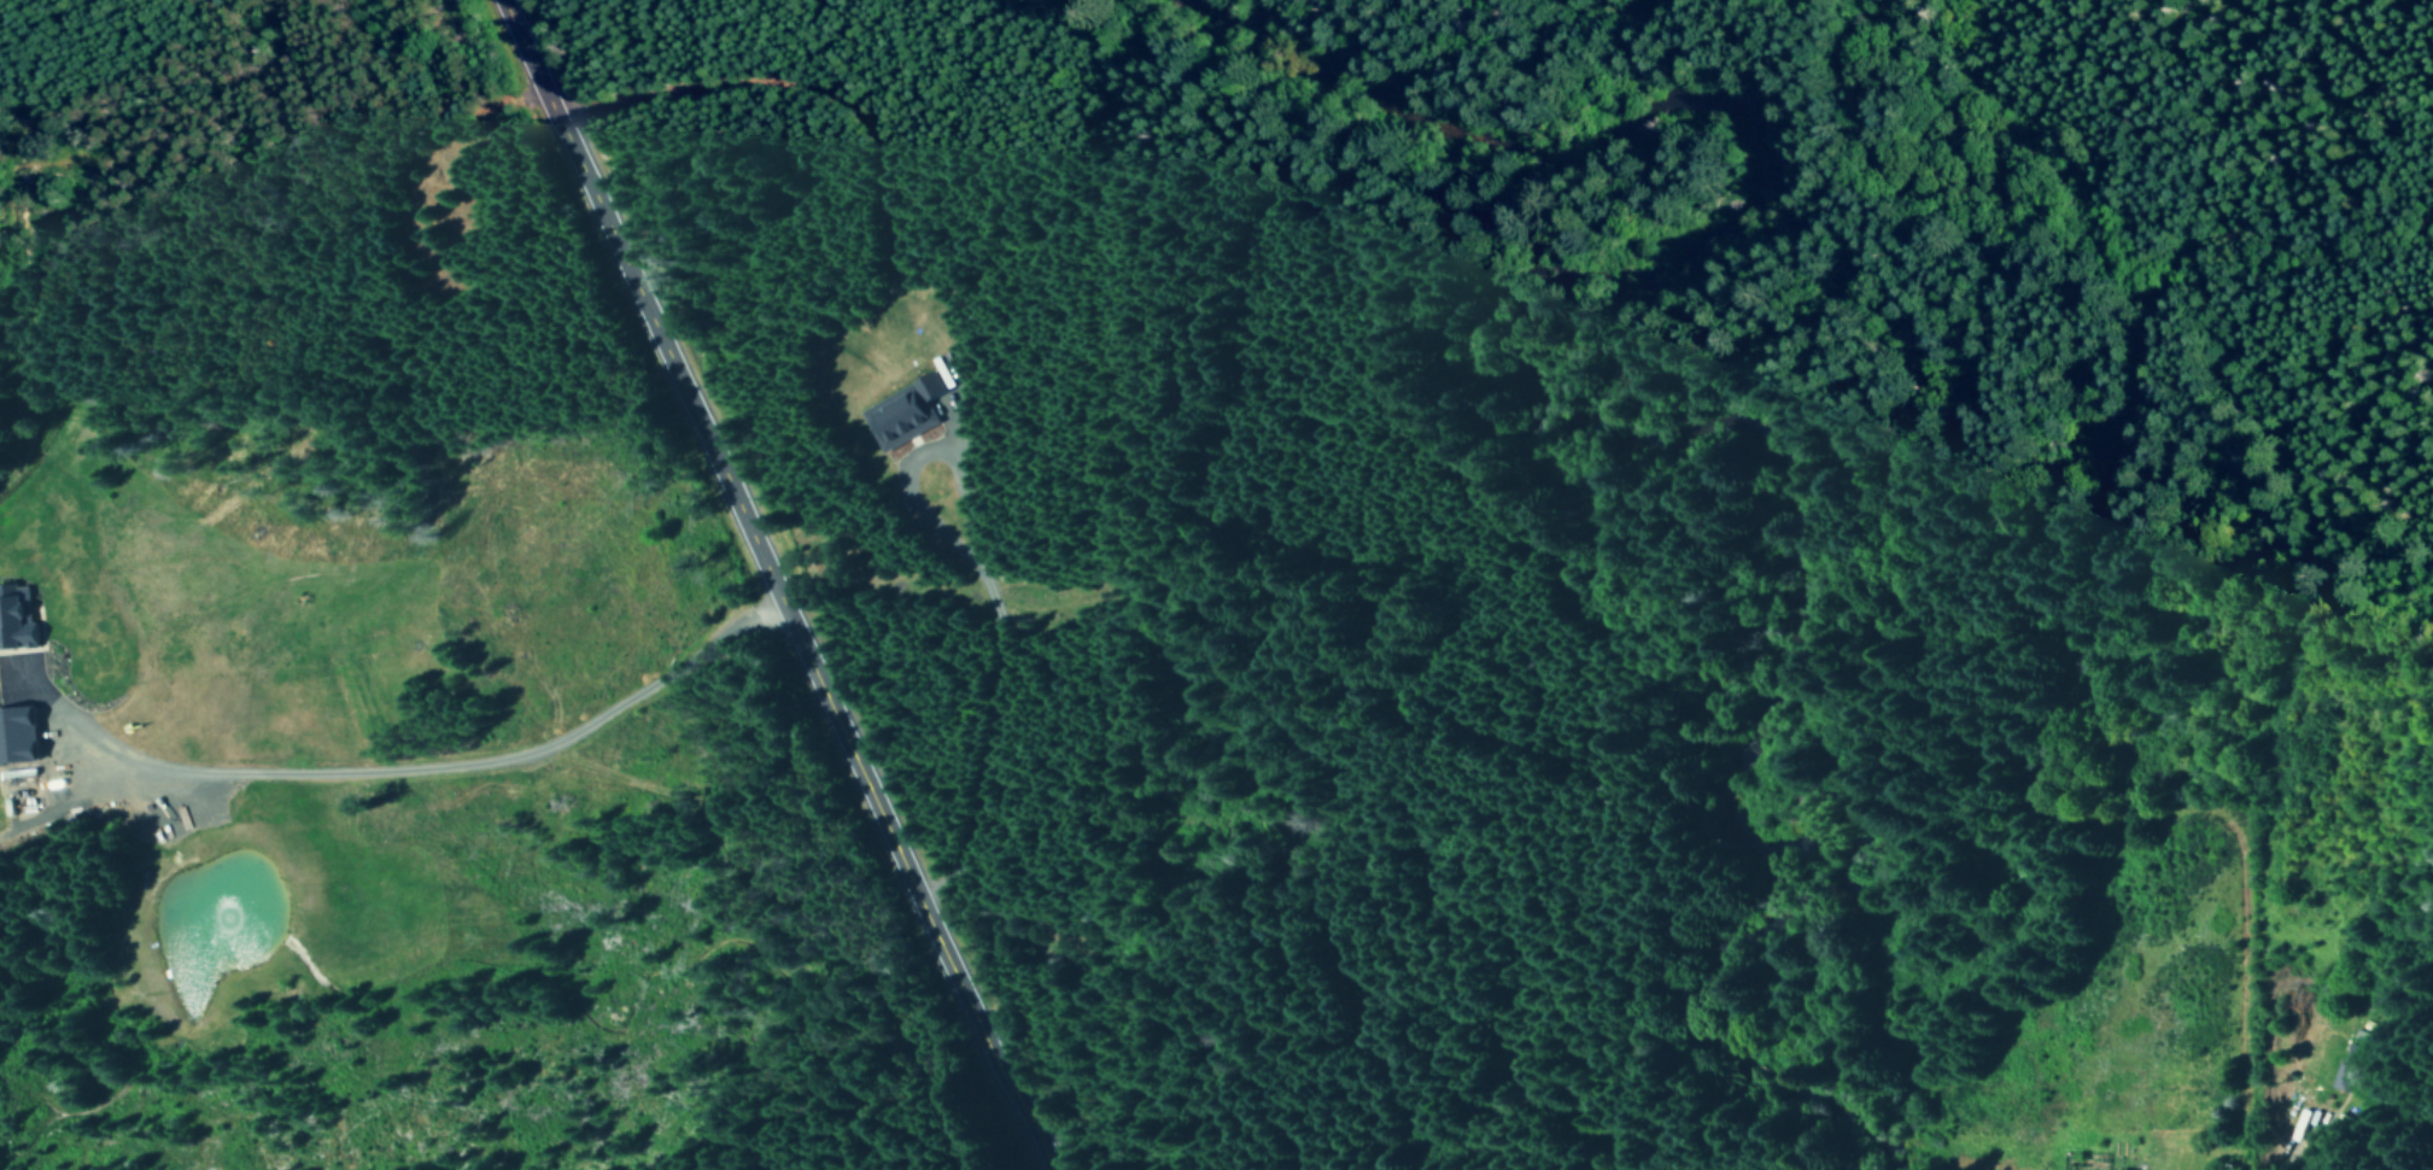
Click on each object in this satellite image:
road: (940, 434)
river: (1651, 439)
road: (780, 579)
building: (17, 616)
building: (21, 733)
road: (421, 771)
road: (1186, 819)
building: (2352, 1066)
road: (2335, 1098)
building: (2303, 1119)

